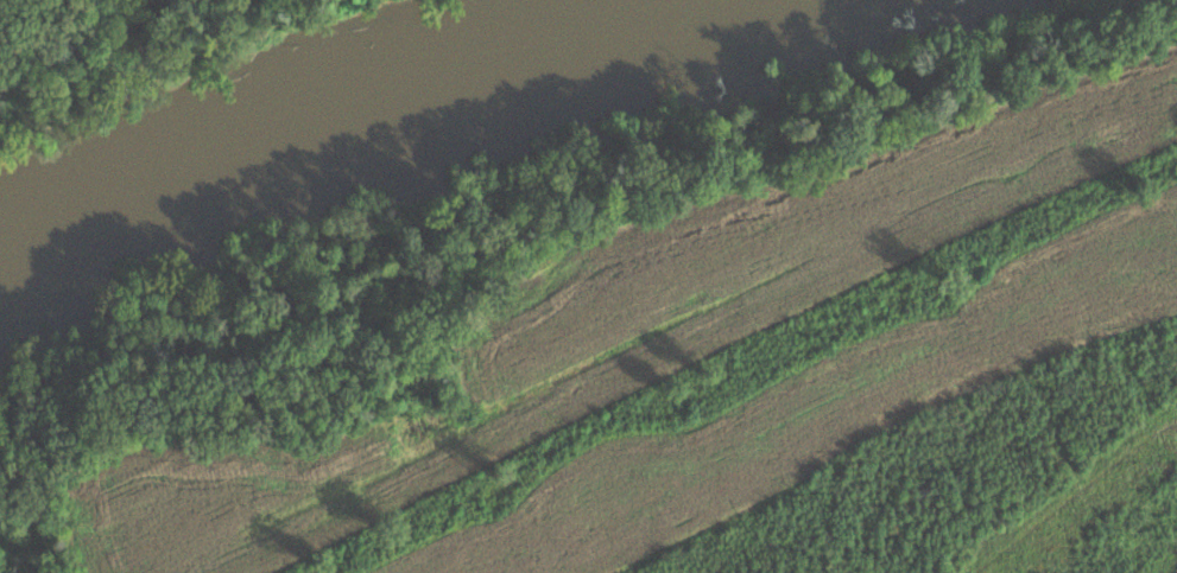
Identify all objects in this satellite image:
river: (335, 115)

